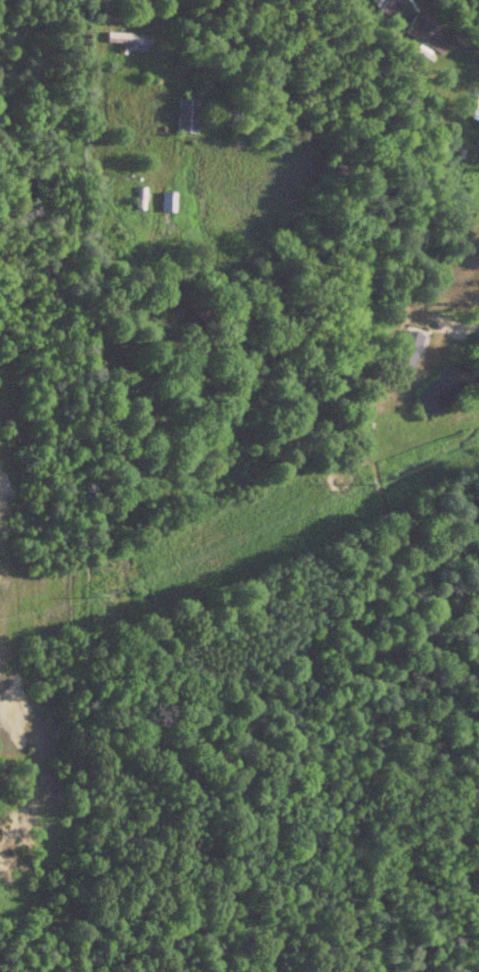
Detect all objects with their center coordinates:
building: (382, 8)
building: (126, 38)
building: (475, 109)
building: (185, 116)
building: (139, 198)
building: (166, 201)
road: (473, 309)
building: (404, 351)

